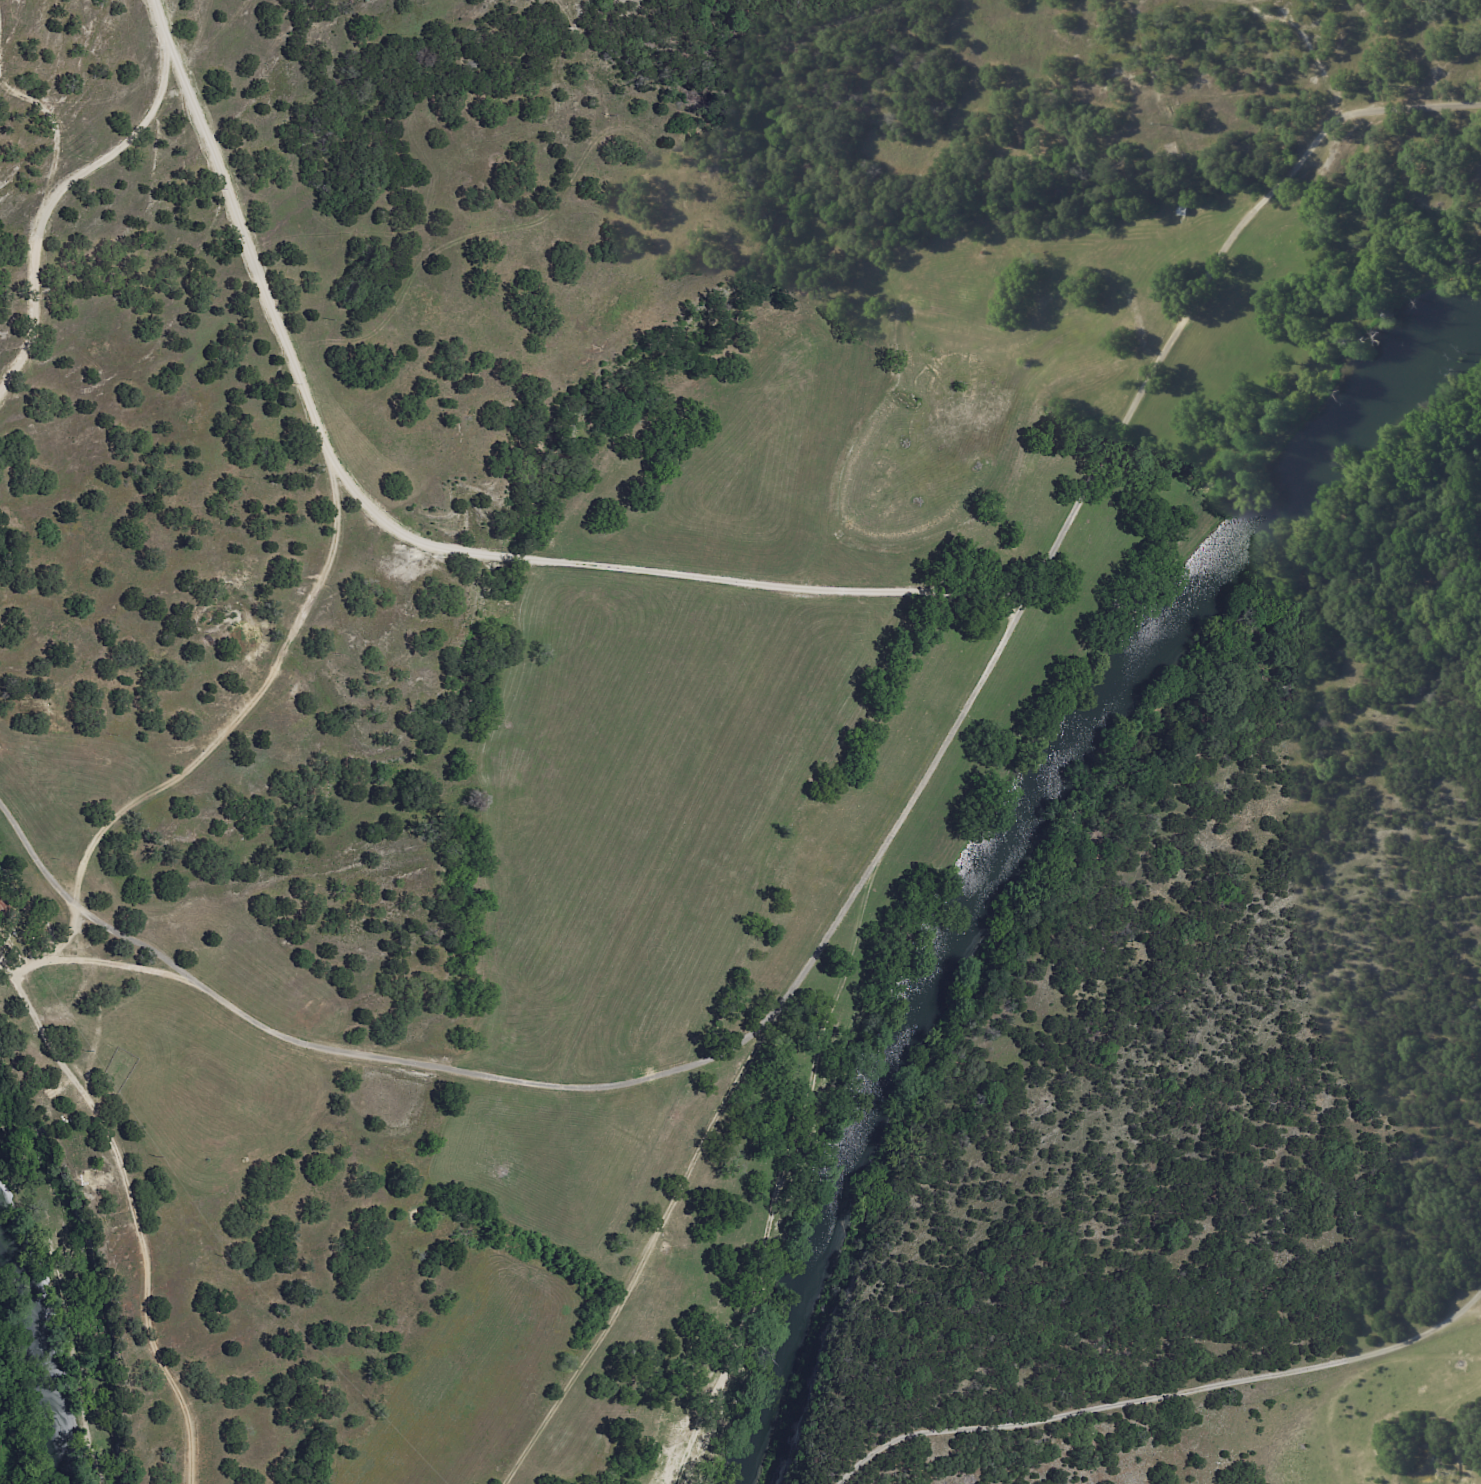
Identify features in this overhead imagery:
road: (773, 586)

